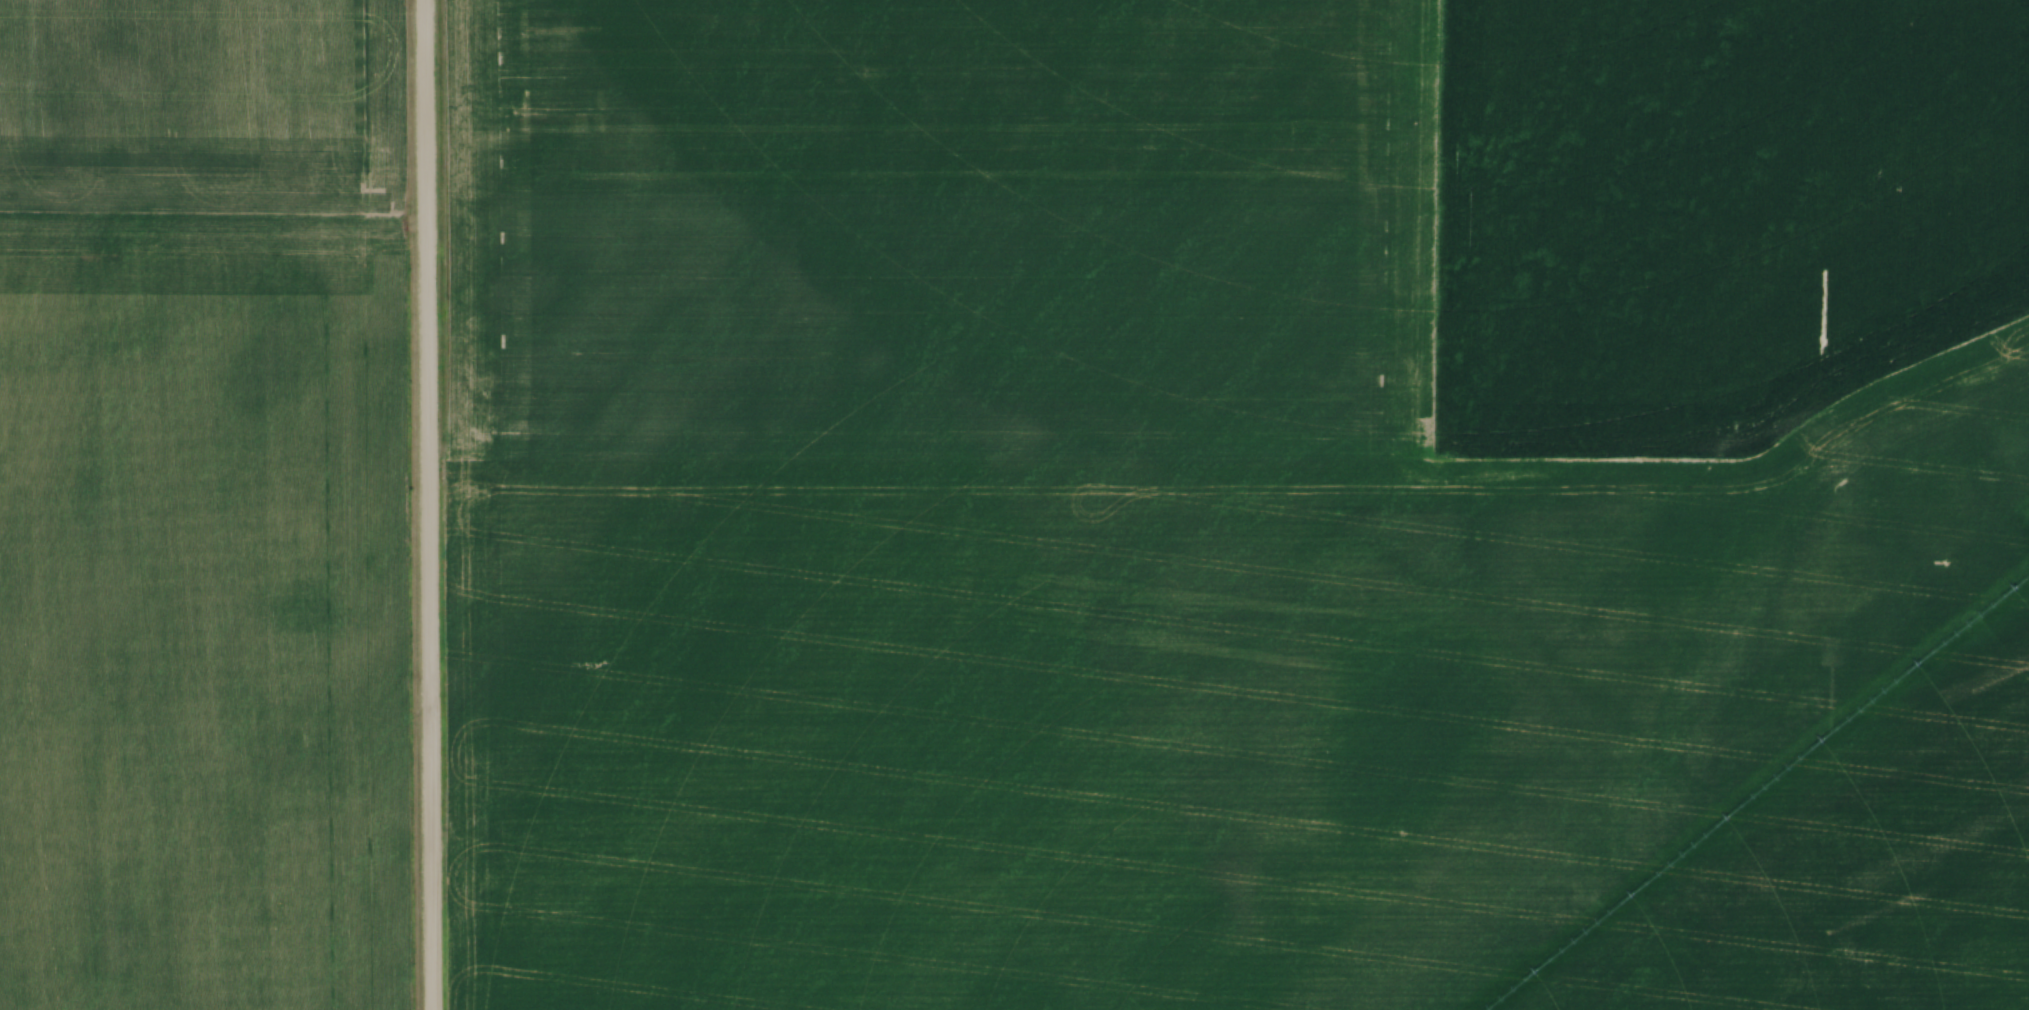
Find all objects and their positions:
road: (428, 505)

